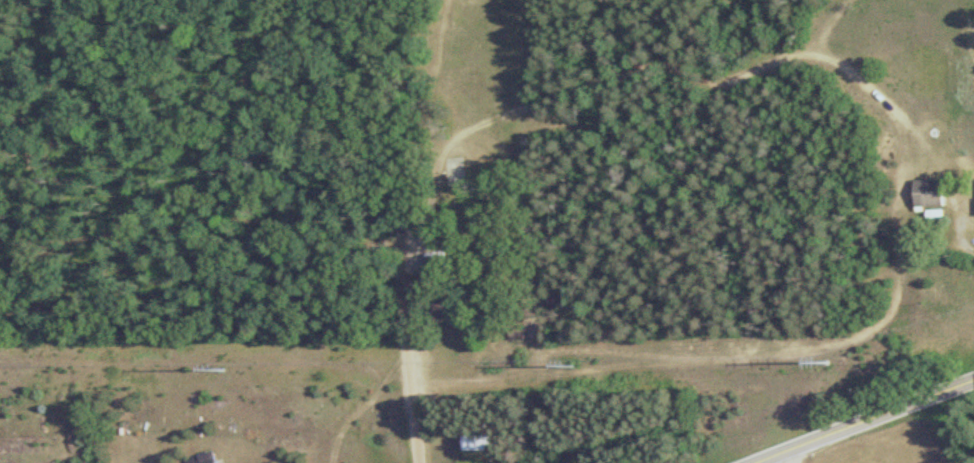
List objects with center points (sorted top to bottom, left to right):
building: (926, 194)
road: (957, 231)
road: (398, 280)
building: (438, 313)
building: (513, 329)
power tower: (826, 362)
power tower: (572, 367)
power tower: (220, 369)
road: (863, 420)
building: (473, 440)
building: (201, 459)

